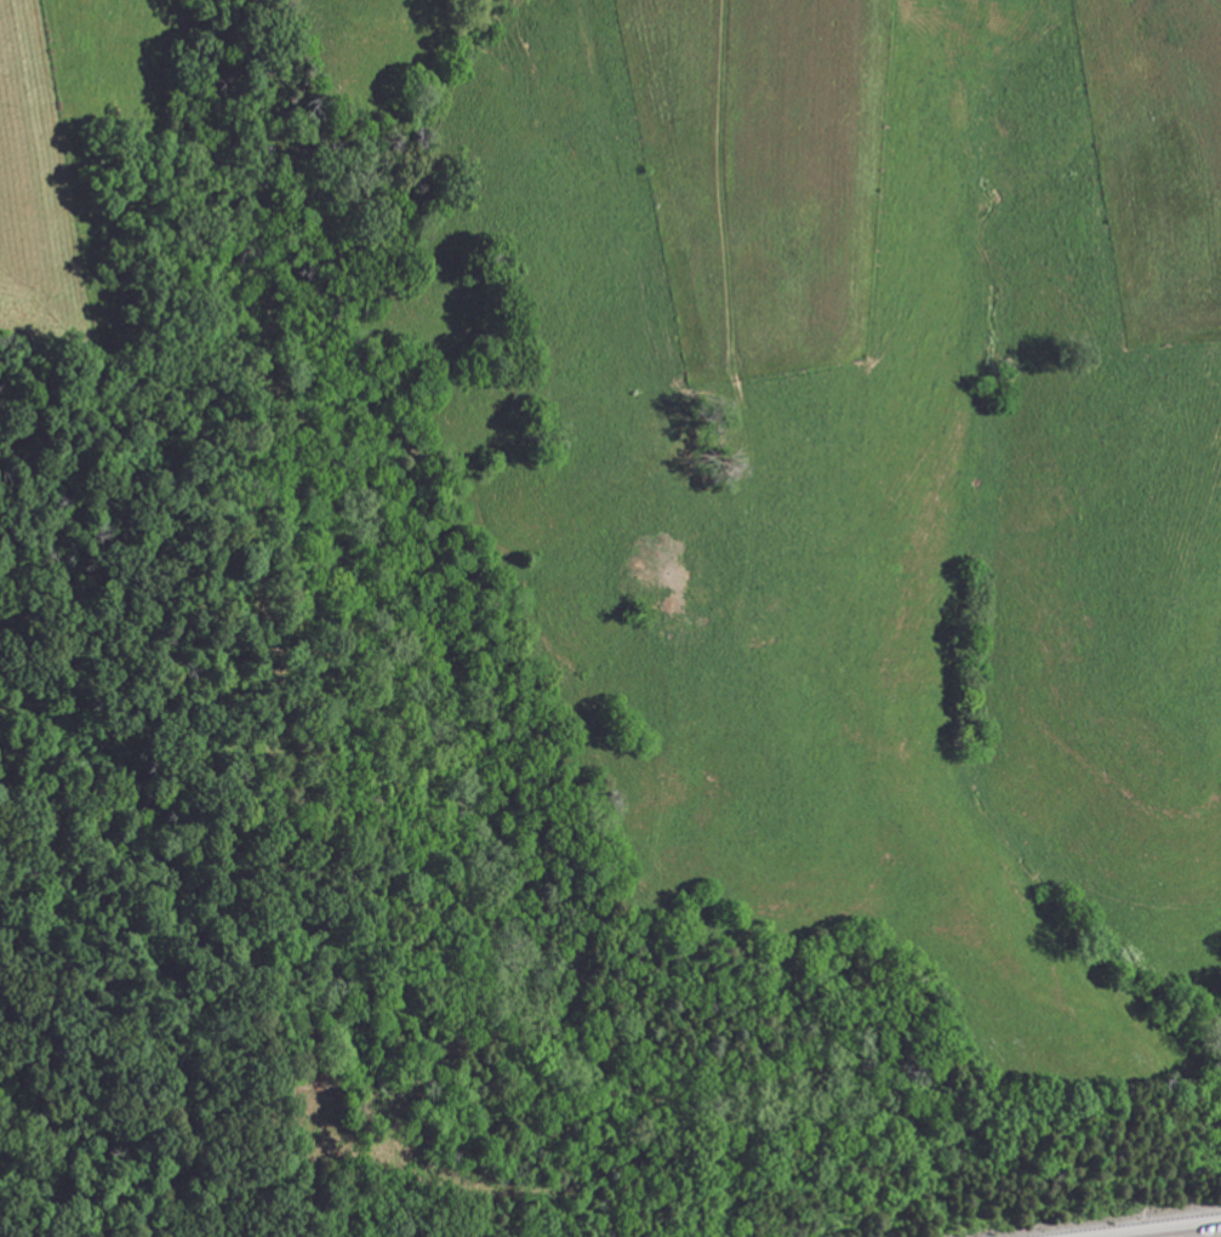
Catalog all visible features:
road: (1176, 1231)

